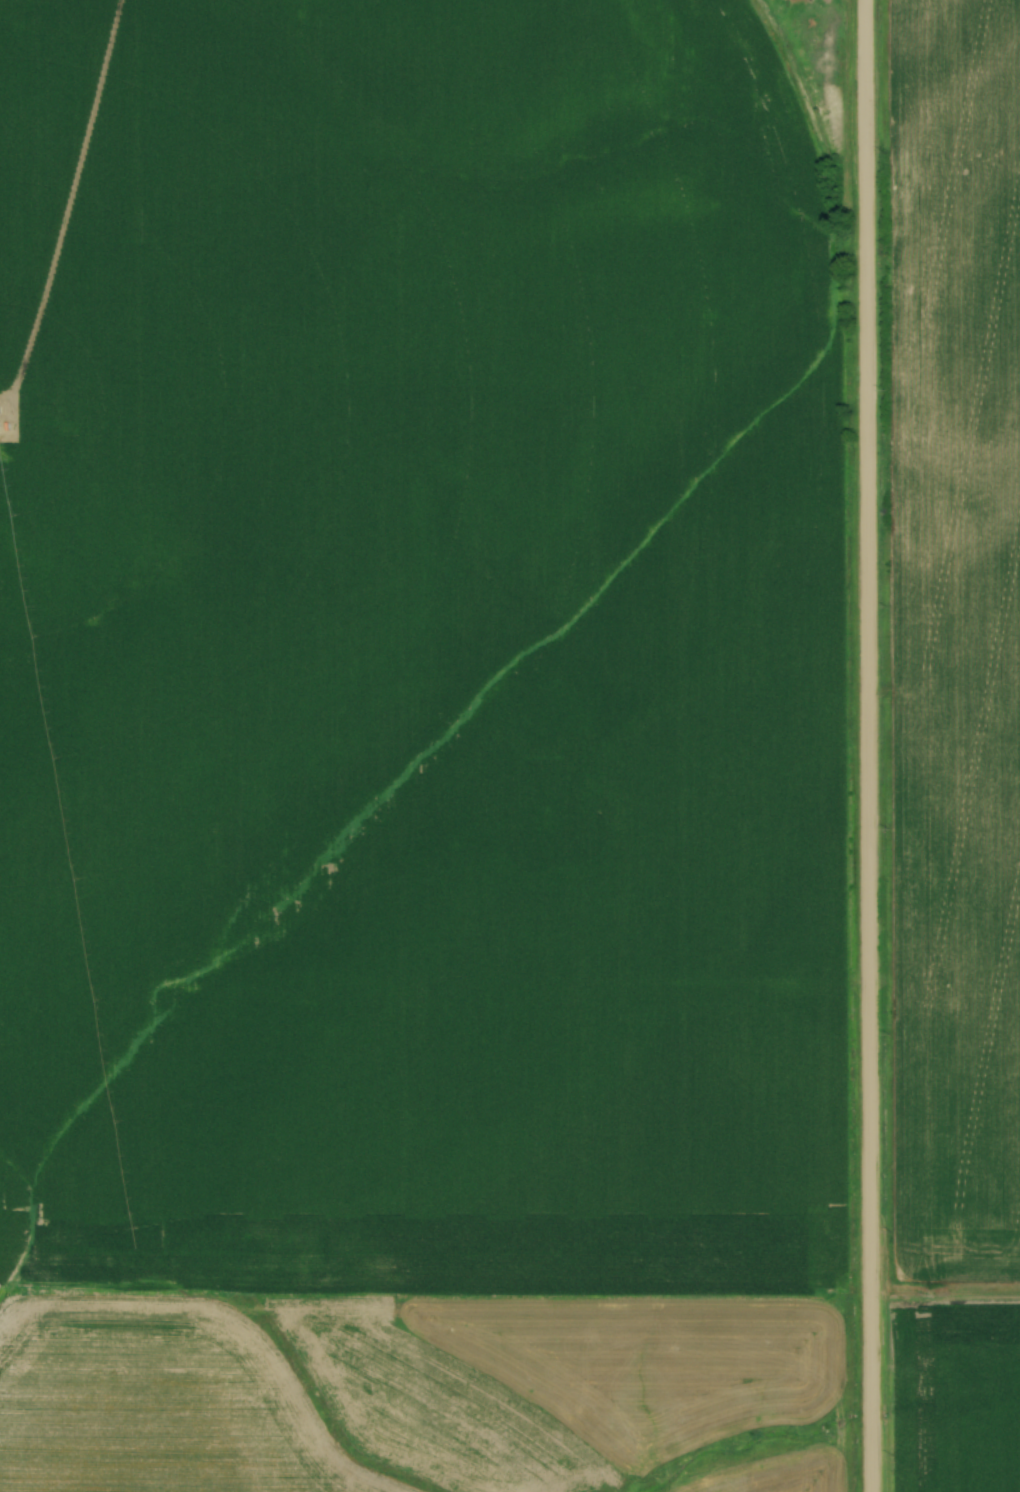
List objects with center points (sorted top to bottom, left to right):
road: (865, 745)

